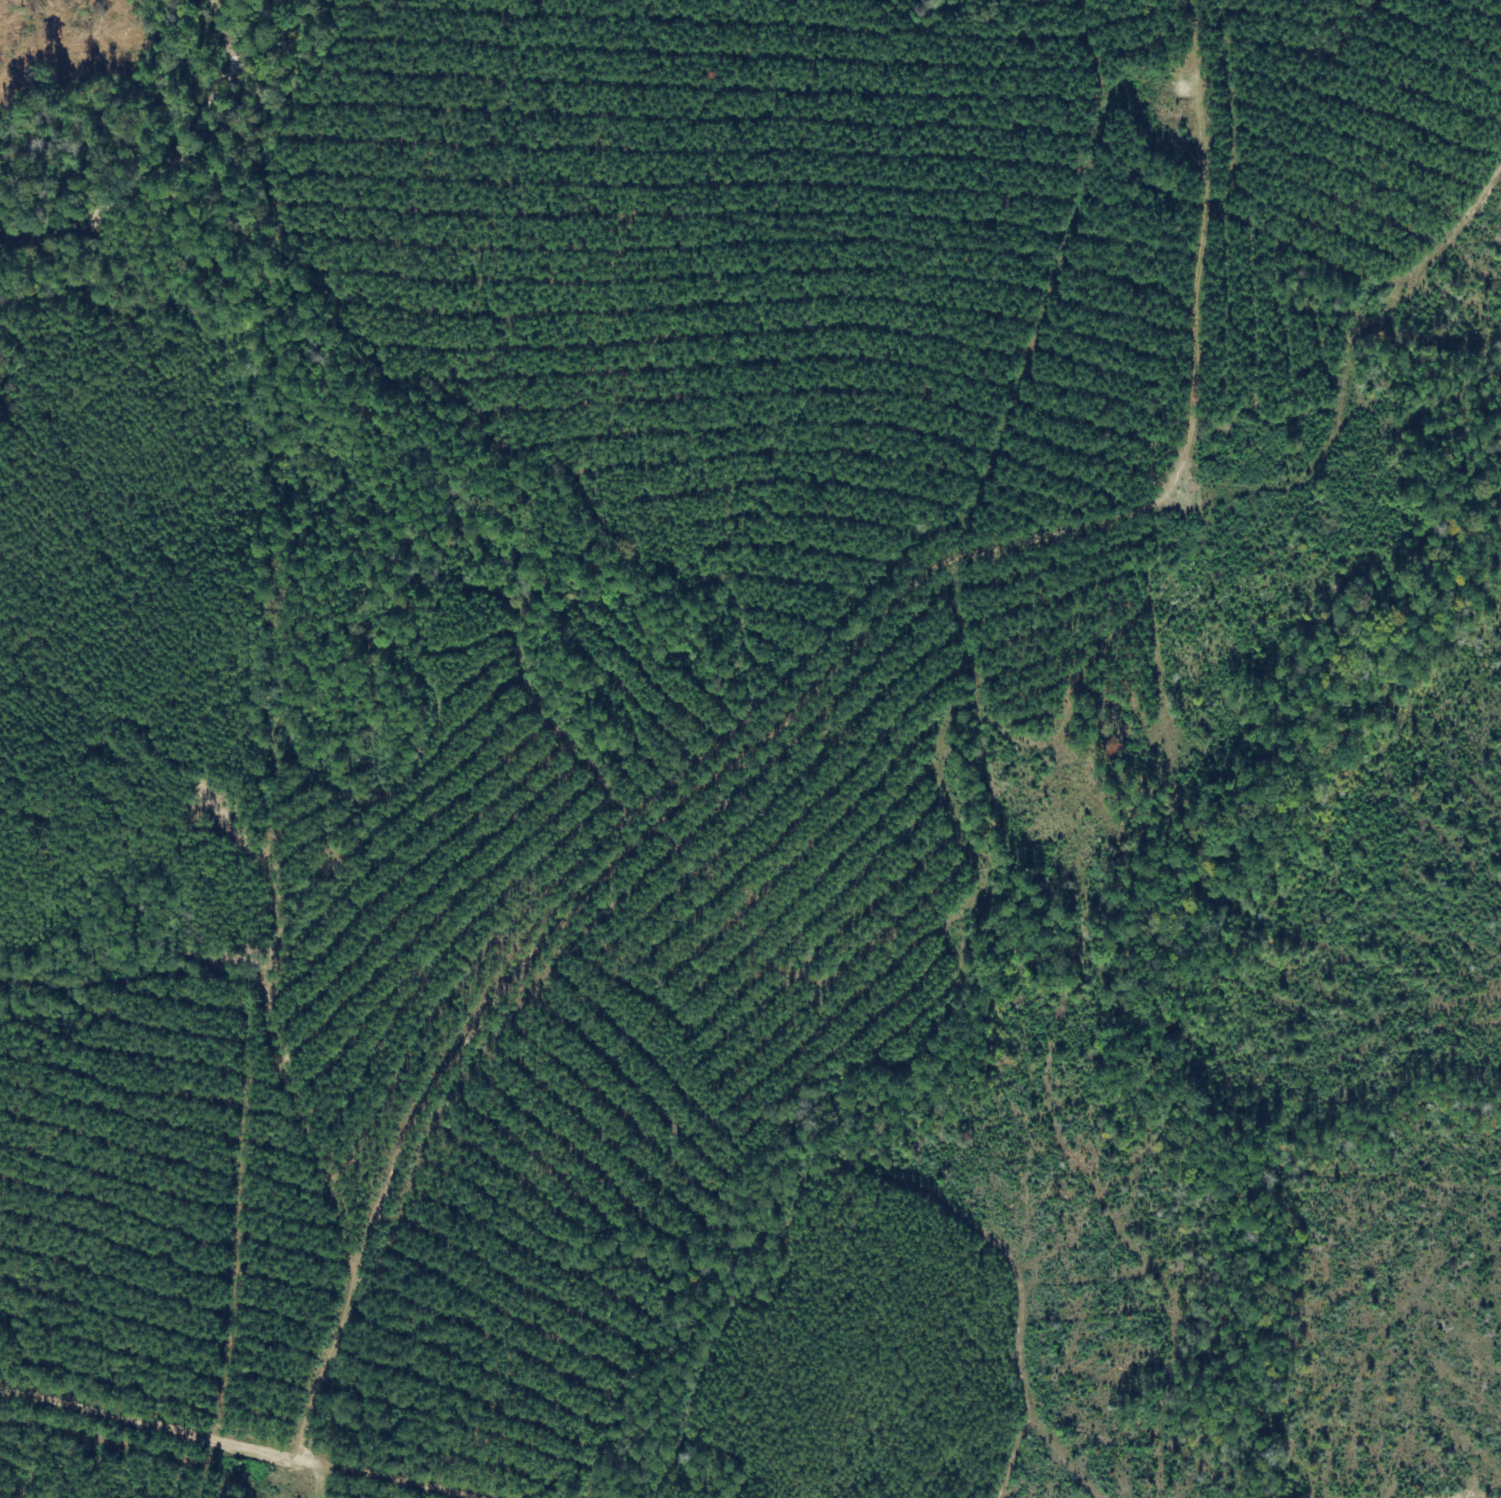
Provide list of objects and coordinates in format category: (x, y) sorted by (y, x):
road: (674, 344)
road: (1093, 565)
road: (251, 660)
road: (408, 1152)
road: (159, 1435)
road: (368, 1478)

